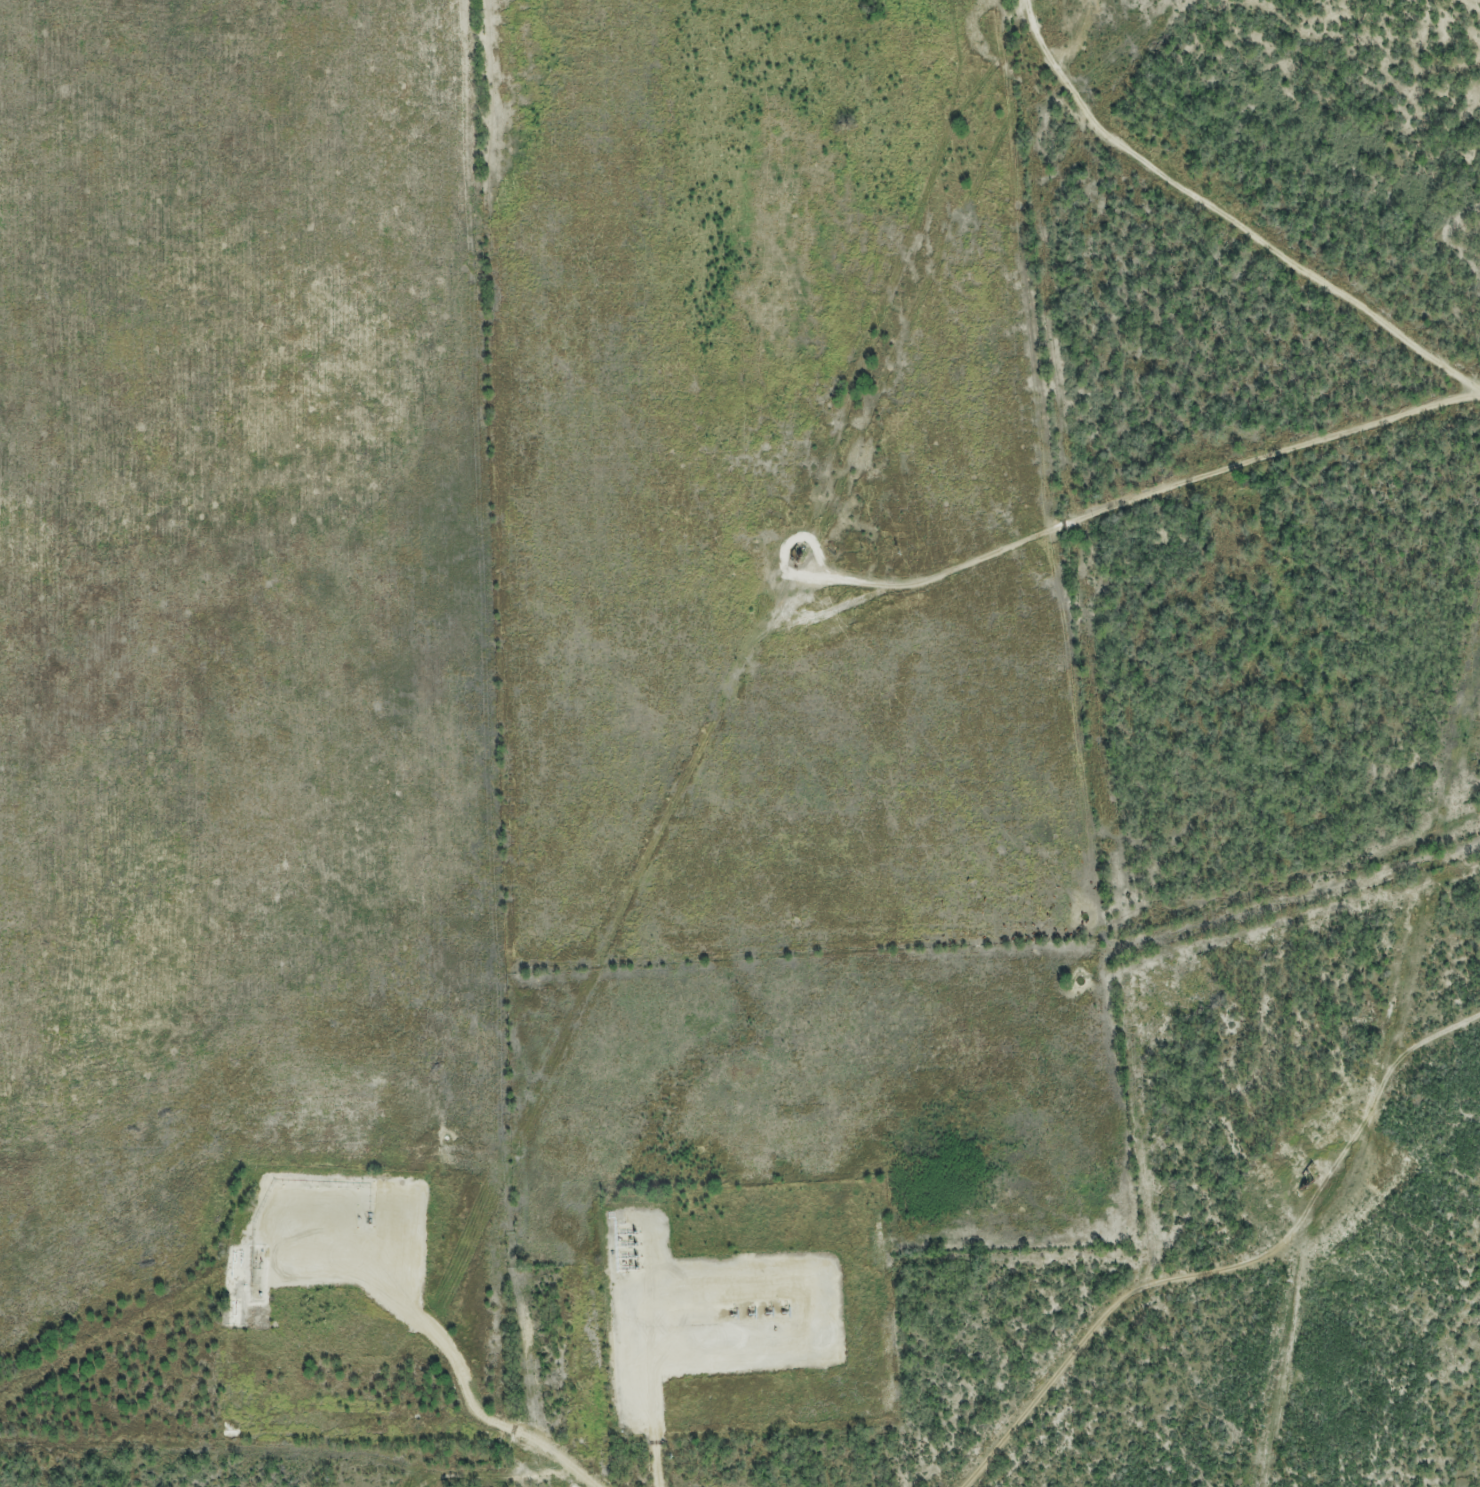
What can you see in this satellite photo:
road: (558, 1453)

